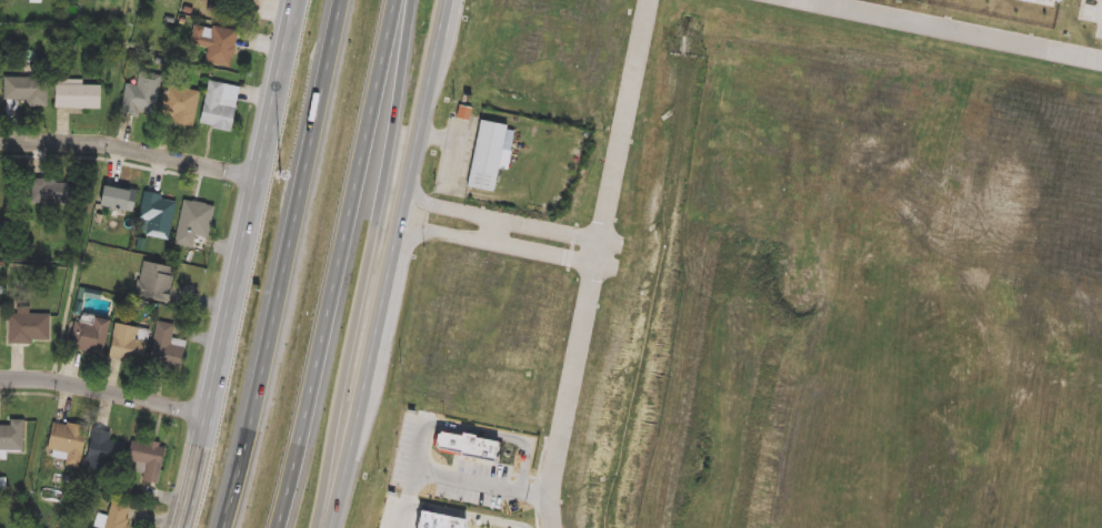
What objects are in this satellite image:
building: (213, 1)
building: (1050, 2)
building: (243, 3)
parking lot: (1093, 12)
water park: (999, 14)
road: (1101, 17)
road: (940, 31)
building: (213, 44)
building: (26, 90)
building: (142, 94)
building: (76, 95)
building: (179, 105)
building: (218, 105)
road: (129, 145)
road: (94, 154)
building: (487, 161)
street lamp: (282, 177)
building: (1, 190)
building: (52, 191)
building: (116, 199)
building: (157, 214)
building: (192, 222)
road: (498, 233)
road: (600, 255)
railway: (544, 262)
road: (599, 263)
road: (237, 264)
road: (285, 264)
road: (338, 264)
road: (369, 264)
road: (389, 264)
building: (153, 282)
building: (29, 328)
building: (88, 335)
building: (128, 343)
building: (166, 349)
road: (23, 390)
road: (103, 390)
road: (503, 435)
building: (10, 436)
building: (468, 443)
building: (64, 444)
building: (103, 453)
road: (543, 457)
road: (468, 458)
building: (146, 459)
road: (417, 474)
road: (524, 476)
road: (535, 477)
road: (487, 485)
road: (540, 495)
road: (465, 514)
building: (116, 516)
building: (438, 518)
road: (539, 519)

